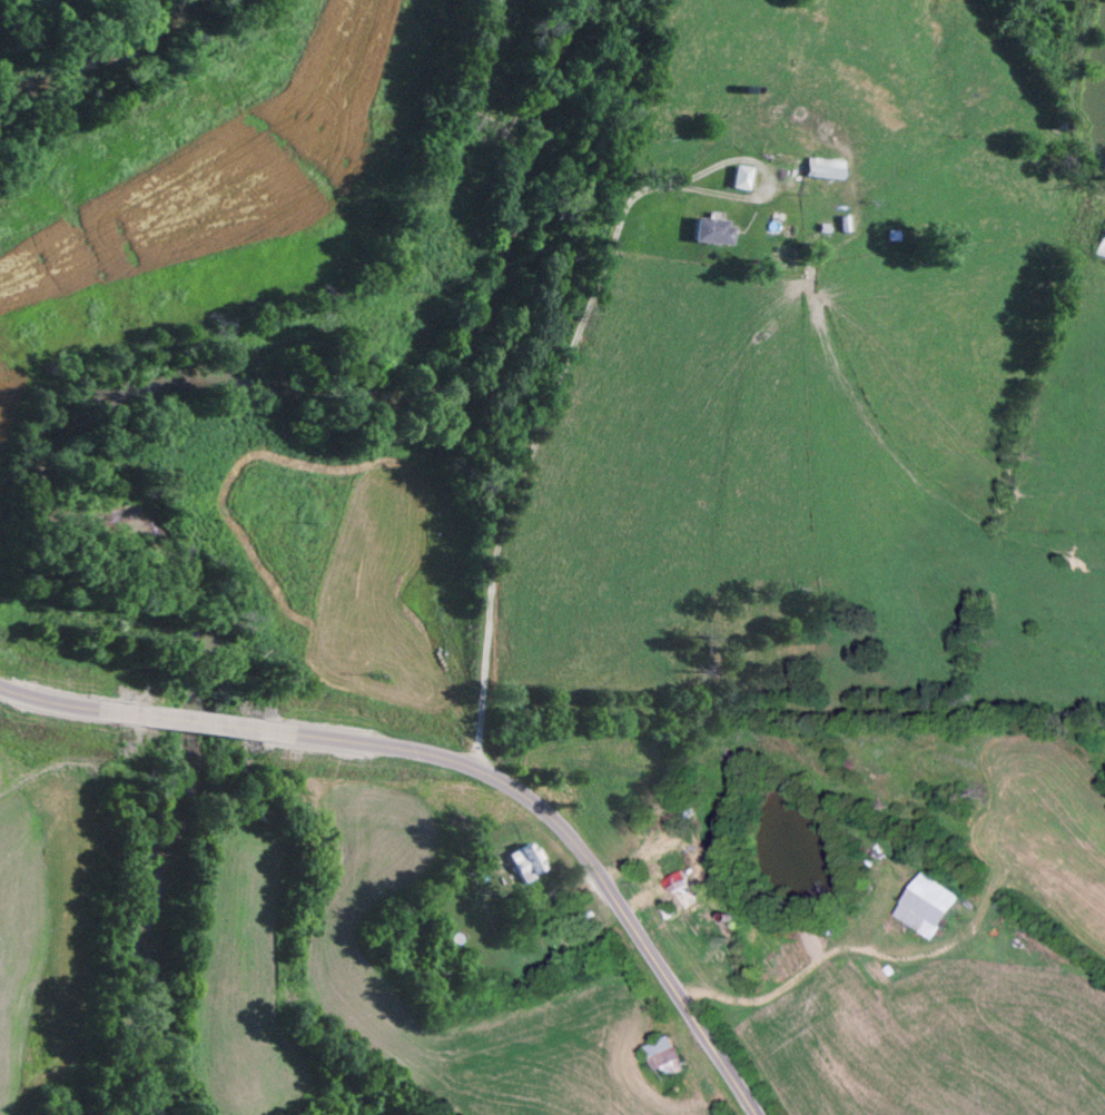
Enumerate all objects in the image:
river: (111, 67)
building: (819, 170)
building: (739, 179)
building: (710, 233)
building: (1103, 249)
river: (70, 423)
road: (457, 759)
building: (522, 865)
building: (673, 884)
building: (923, 908)
building: (663, 1059)

